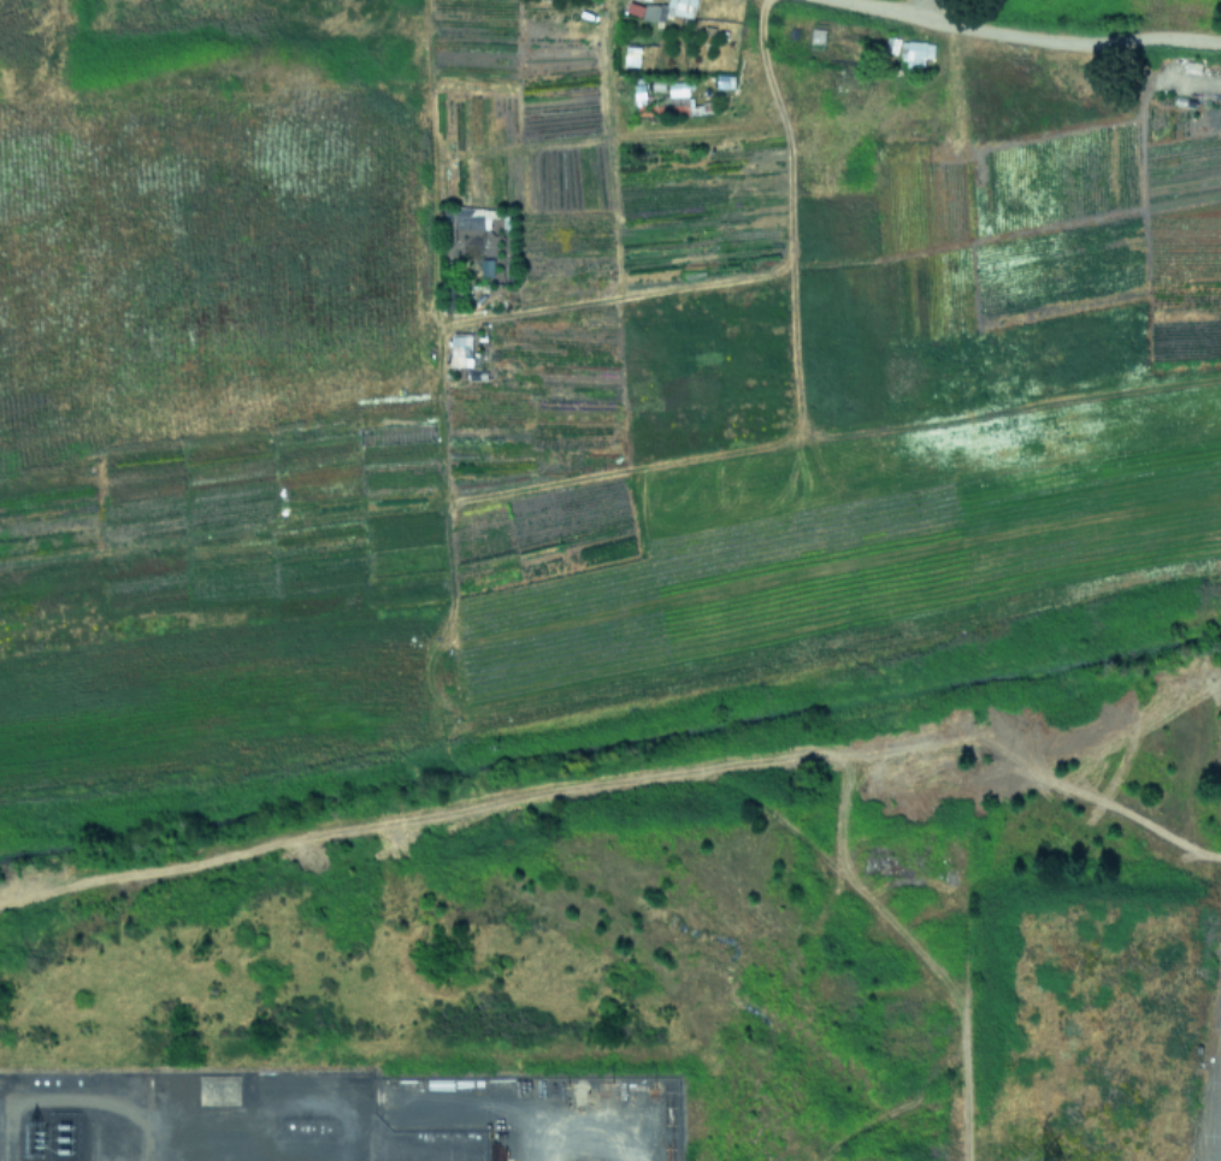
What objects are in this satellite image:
building: (668, 8)
road: (925, 8)
road: (1027, 35)
building: (915, 52)
building: (459, 346)
road: (1217, 1050)
parking lot: (1209, 1071)
road: (1214, 1106)
power substation: (343, 1119)
road: (1210, 1155)

